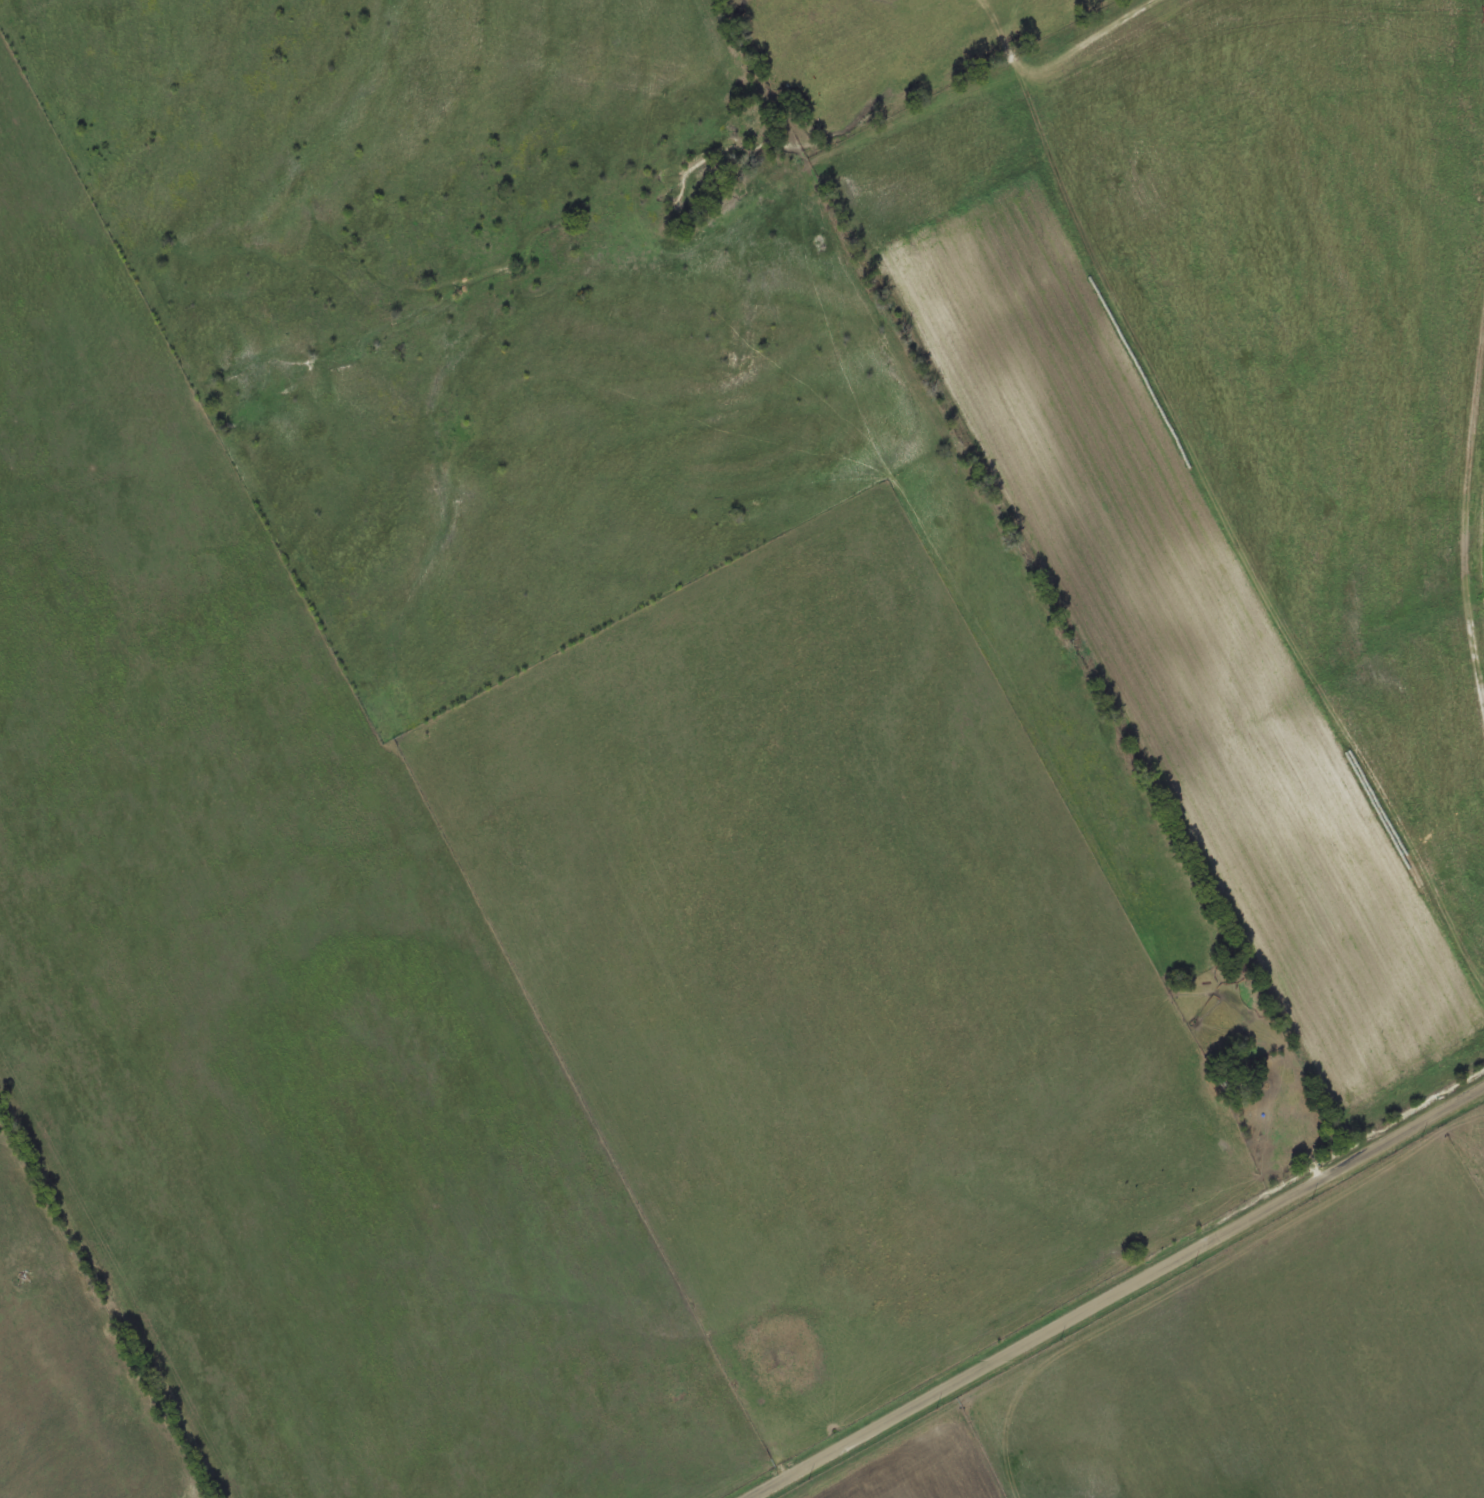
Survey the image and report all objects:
road: (1121, 1294)

